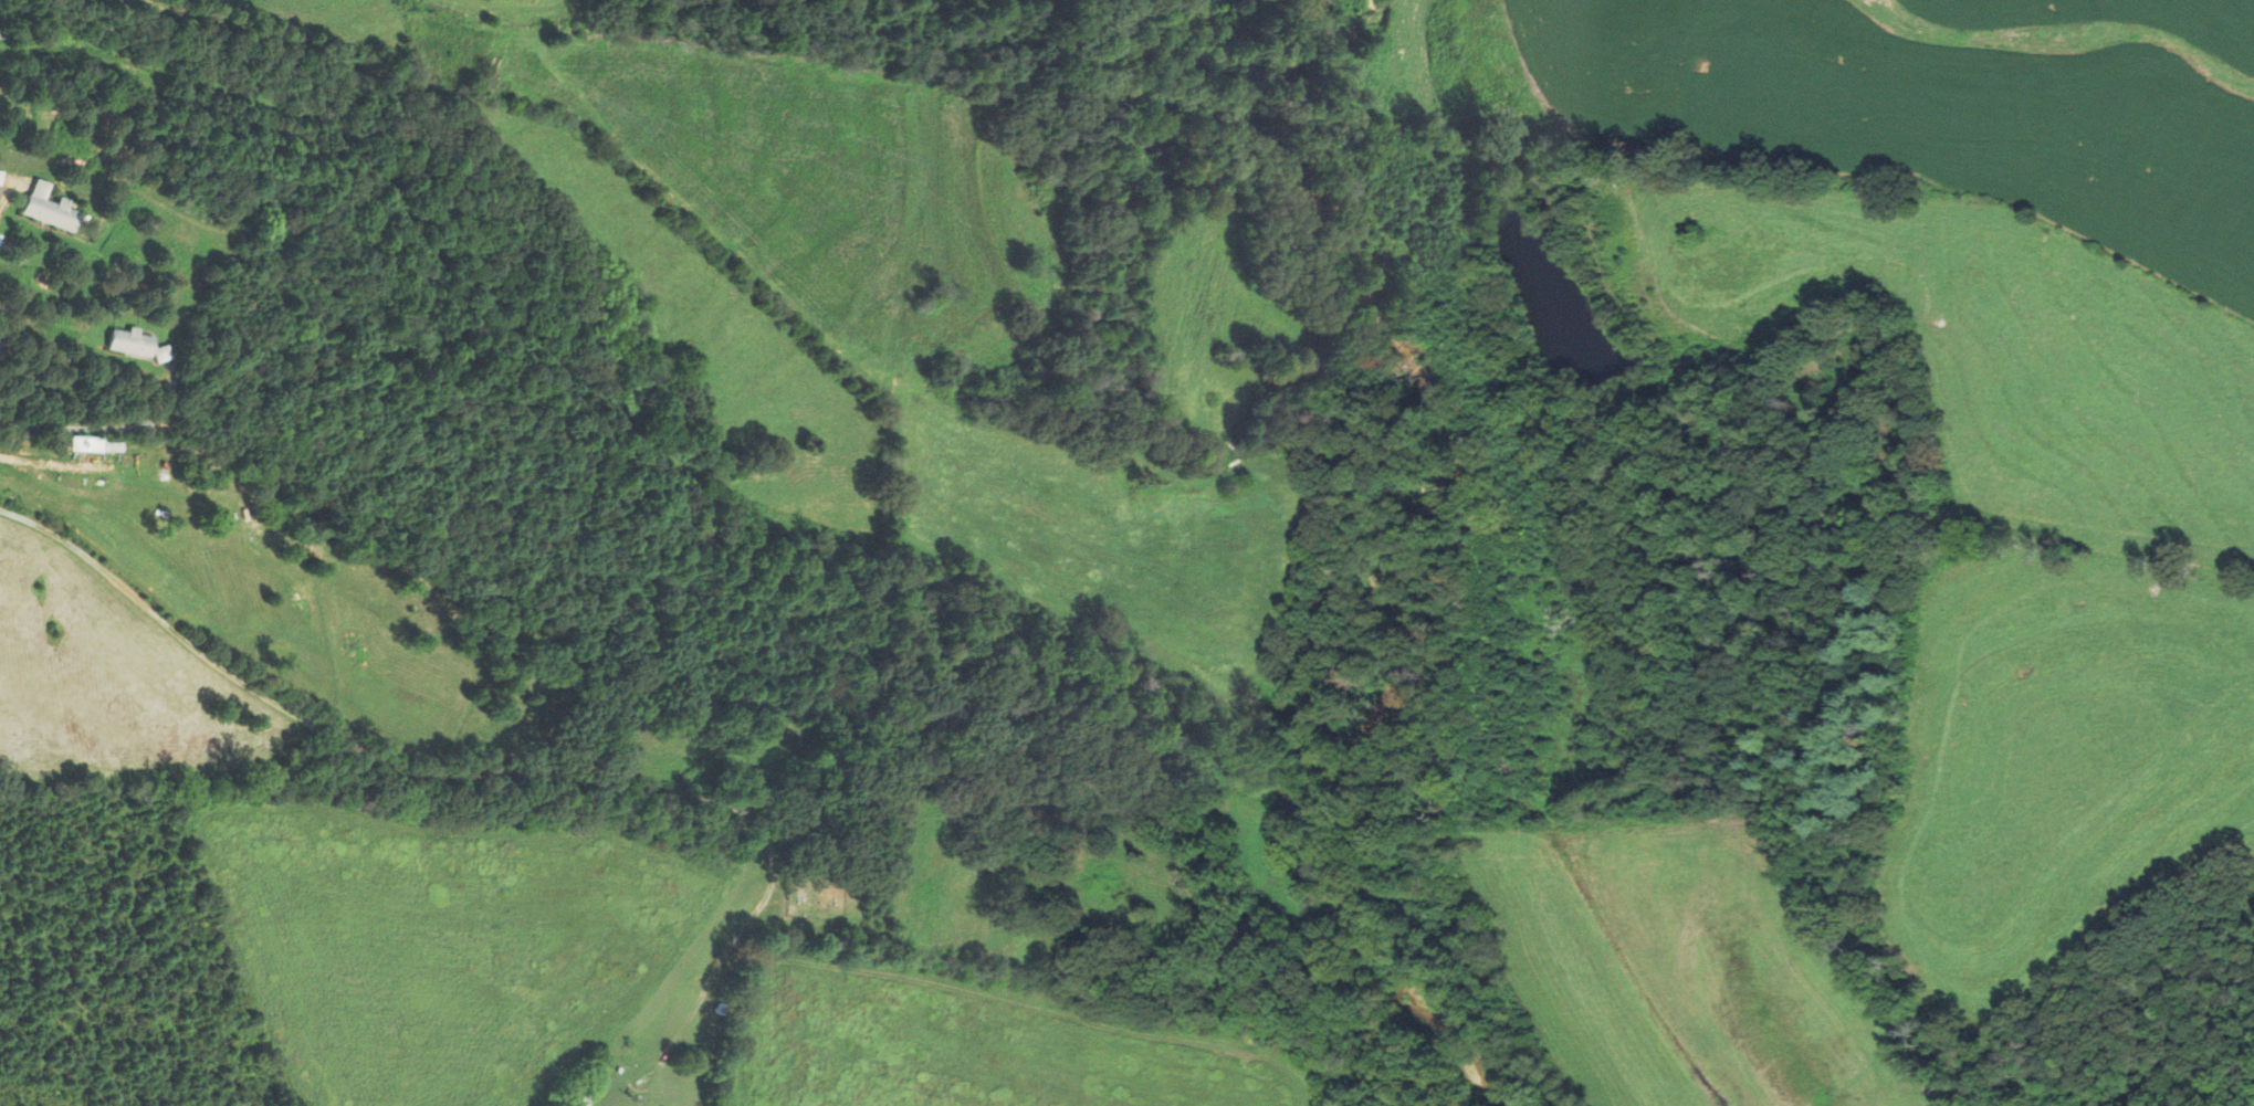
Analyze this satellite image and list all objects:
road: (6, 199)
building: (42, 207)
building: (130, 344)
road: (461, 777)
park: (816, 895)

